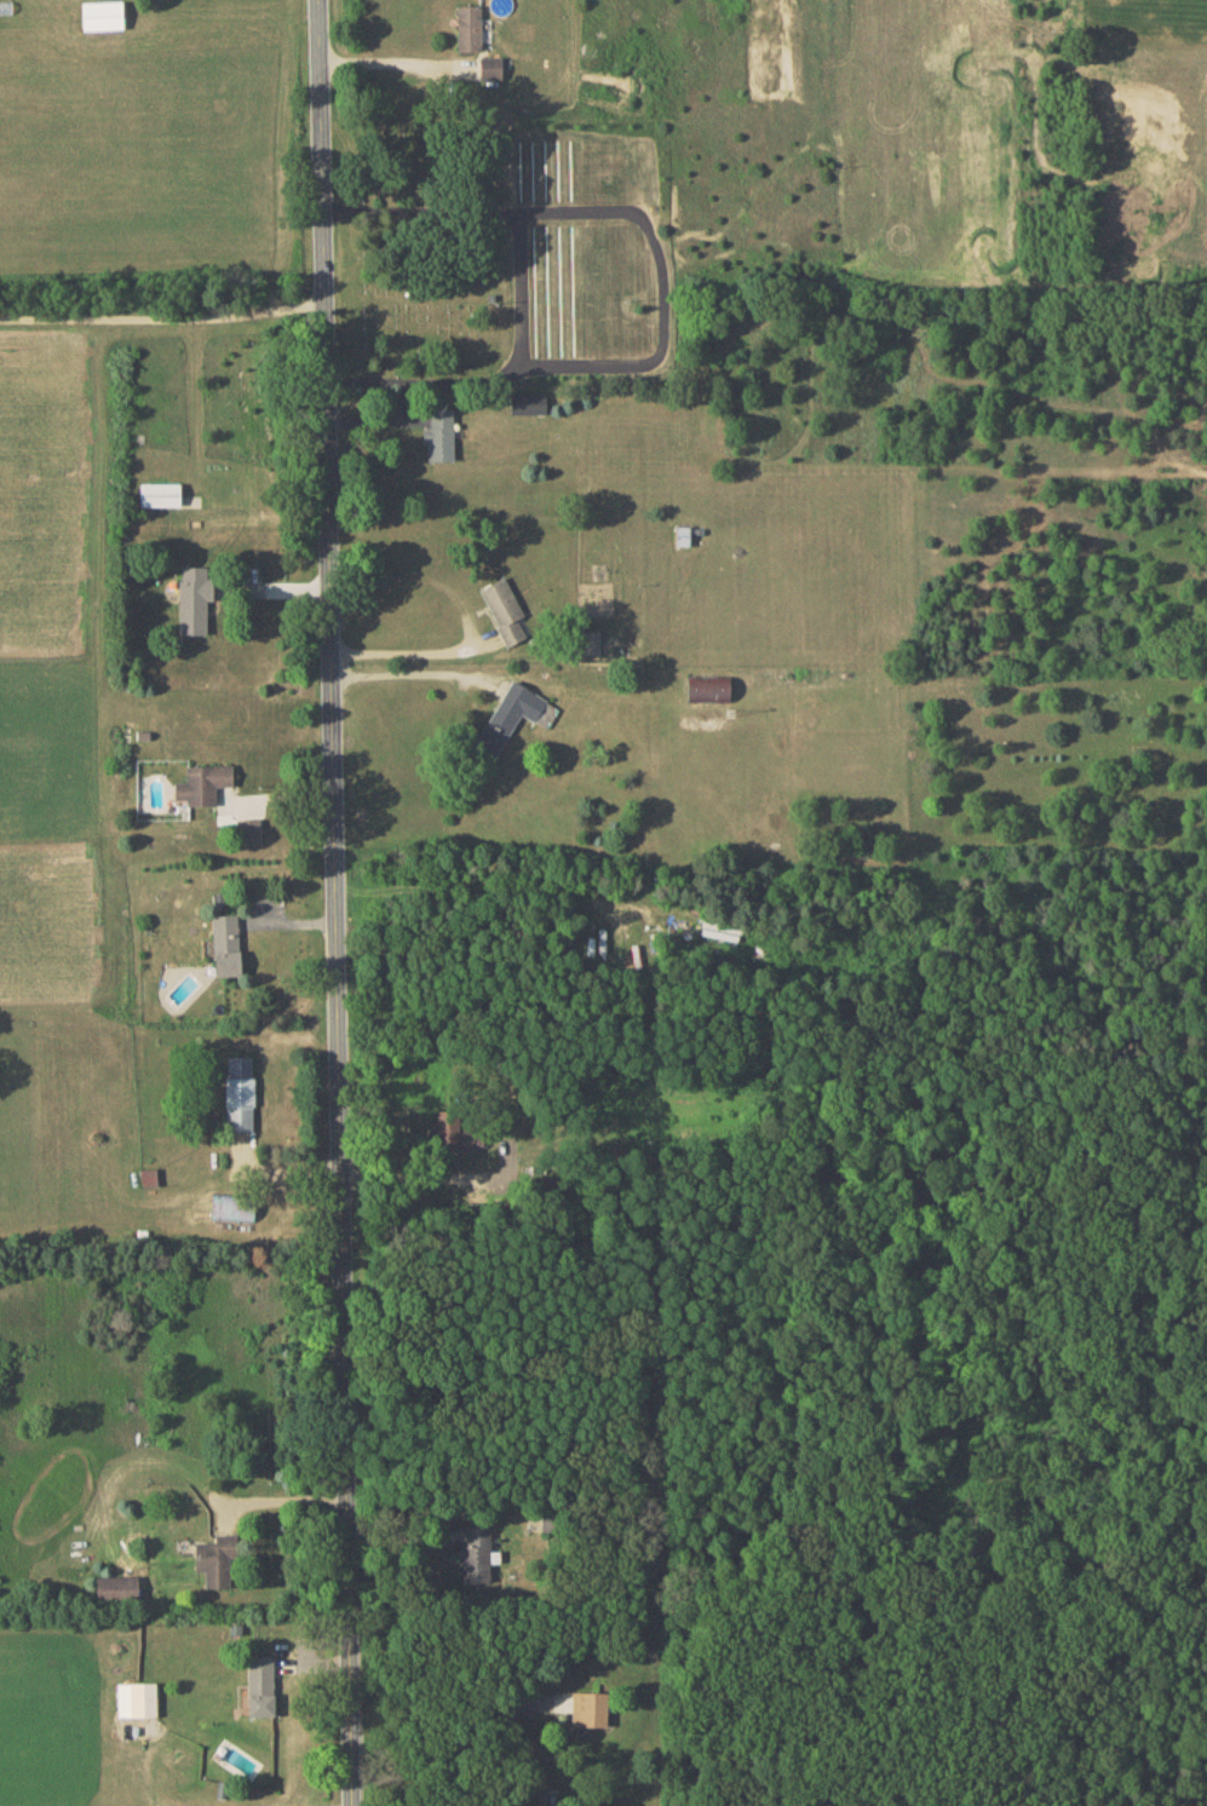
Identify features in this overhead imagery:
building: (469, 27)
road: (389, 62)
building: (490, 67)
park: (424, 247)
road: (163, 320)
building: (438, 435)
building: (194, 598)
building: (504, 610)
road: (410, 644)
road: (410, 665)
building: (513, 715)
building: (202, 783)
building: (248, 828)
road: (331, 903)
building: (225, 944)
building: (238, 1092)
building: (448, 1132)
road: (421, 1175)
building: (232, 1206)
road: (276, 1497)
building: (475, 1553)
building: (215, 1558)
building: (116, 1586)
building: (259, 1684)
building: (136, 1698)
building: (588, 1708)

